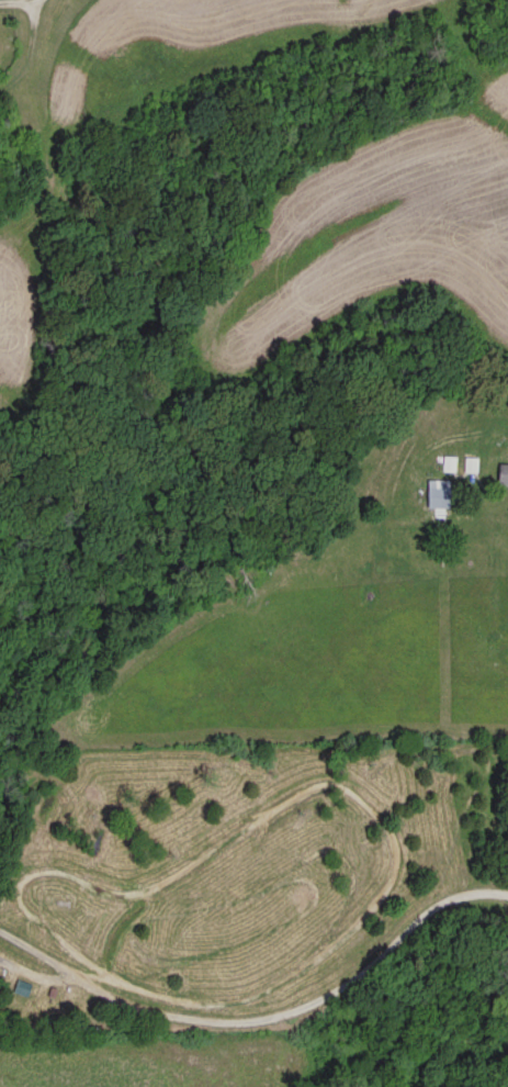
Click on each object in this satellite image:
road: (29, 49)
building: (448, 460)
building: (472, 461)
building: (505, 471)
building: (440, 490)
road: (263, 1013)

